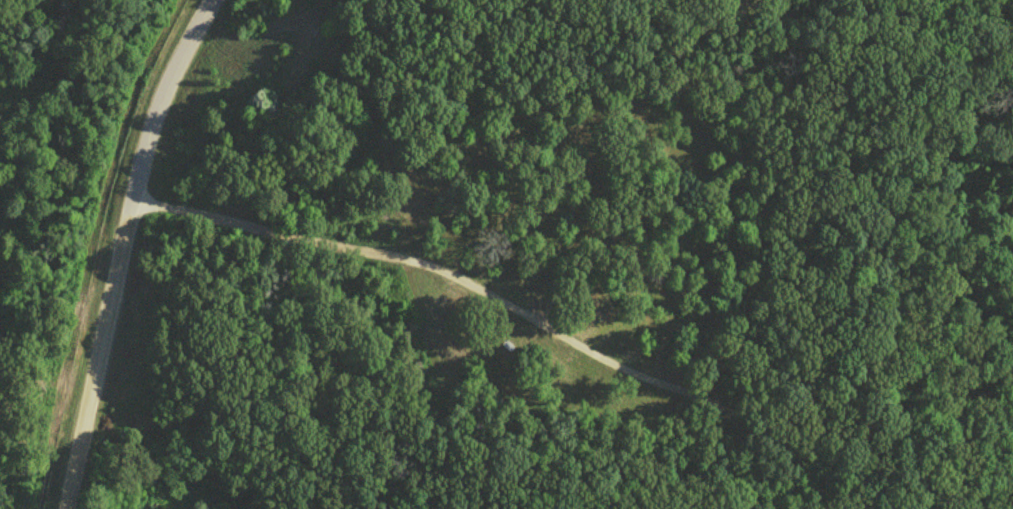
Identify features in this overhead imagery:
road: (90, 178)
road: (119, 249)
road: (507, 304)
road: (13, 486)

